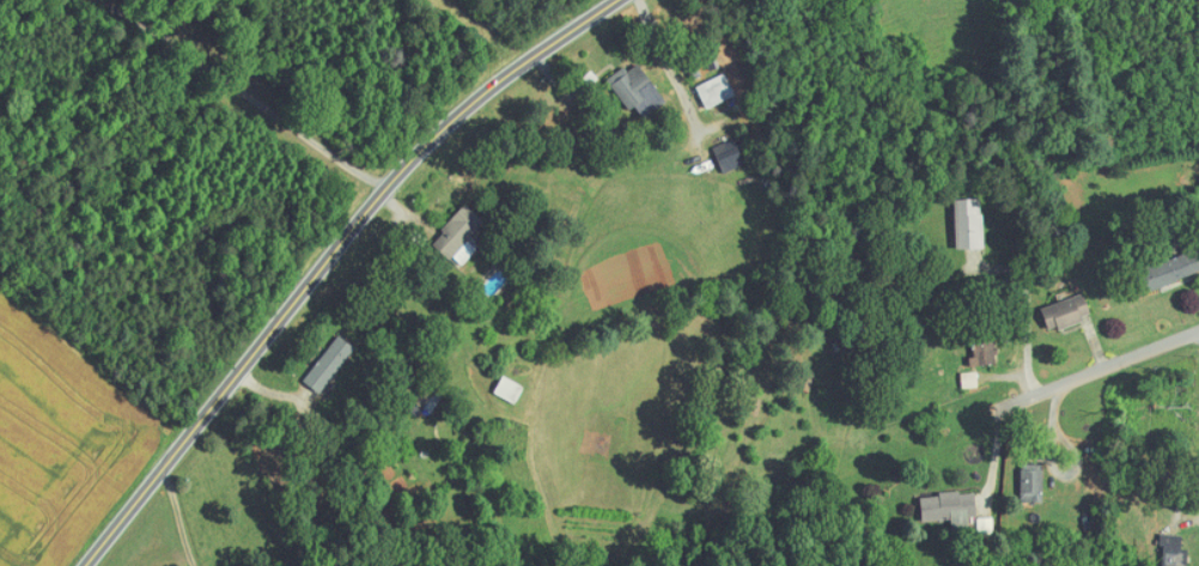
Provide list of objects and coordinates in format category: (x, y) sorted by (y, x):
road: (245, 90)
building: (638, 90)
building: (717, 91)
building: (730, 156)
building: (970, 224)
building: (459, 236)
road: (328, 257)
building: (1168, 272)
building: (1066, 312)
road: (1028, 315)
building: (330, 365)
road: (1118, 366)
building: (970, 379)
building: (510, 390)
road: (999, 437)
building: (1033, 486)
building: (950, 509)
building: (1175, 552)

